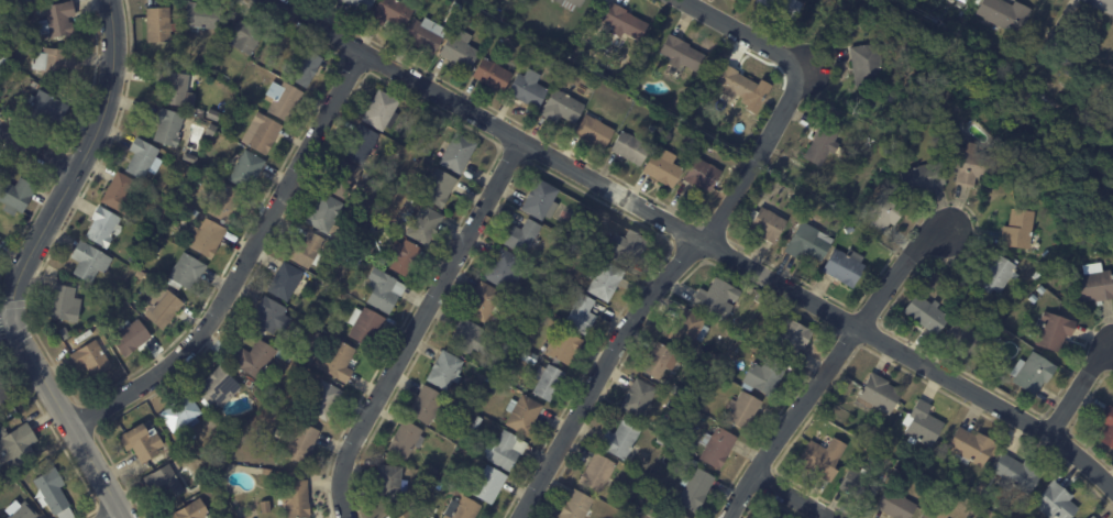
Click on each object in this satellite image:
road: (1112, 0)
building: (570, 2)
building: (960, 2)
building: (359, 4)
building: (783, 5)
building: (392, 12)
building: (1005, 13)
building: (201, 15)
building: (463, 16)
building: (16, 18)
building: (505, 18)
building: (928, 18)
building: (55, 19)
building: (624, 22)
building: (158, 24)
road: (742, 34)
building: (422, 35)
building: (508, 35)
building: (244, 36)
building: (460, 49)
building: (1068, 53)
building: (681, 54)
building: (2, 59)
building: (54, 60)
building: (301, 66)
building: (554, 66)
building: (868, 66)
building: (11, 67)
building: (672, 69)
building: (492, 74)
building: (34, 84)
building: (735, 85)
building: (176, 88)
building: (528, 88)
building: (283, 99)
building: (561, 107)
building: (45, 108)
building: (382, 111)
building: (212, 114)
building: (168, 128)
building: (211, 128)
building: (652, 128)
building: (594, 130)
building: (261, 134)
building: (692, 141)
building: (361, 143)
building: (823, 144)
building: (225, 145)
road: (36, 148)
building: (630, 148)
building: (458, 153)
road: (754, 154)
building: (142, 158)
building: (189, 158)
road: (77, 162)
building: (976, 166)
building: (1, 167)
building: (246, 169)
building: (662, 169)
building: (1007, 173)
building: (702, 175)
building: (923, 177)
building: (342, 179)
building: (437, 187)
building: (174, 191)
building: (791, 191)
building: (118, 194)
building: (14, 196)
building: (540, 200)
building: (224, 203)
building: (882, 212)
building: (323, 213)
building: (767, 224)
building: (425, 225)
building: (102, 227)
building: (849, 229)
building: (1018, 229)
road: (695, 234)
building: (521, 236)
building: (207, 238)
building: (807, 241)
building: (629, 249)
building: (306, 251)
building: (403, 257)
building: (88, 261)
road: (244, 262)
building: (844, 266)
building: (551, 267)
building: (503, 268)
building: (185, 272)
road: (897, 274)
building: (139, 275)
building: (959, 275)
building: (996, 275)
building: (1036, 275)
building: (604, 279)
building: (284, 280)
building: (1093, 284)
building: (1042, 289)
building: (383, 290)
building: (714, 299)
building: (544, 301)
building: (483, 302)
building: (63, 304)
building: (163, 308)
building: (926, 313)
building: (581, 315)
building: (271, 317)
building: (558, 318)
road: (7, 319)
road: (416, 323)
building: (364, 326)
building: (688, 328)
building: (1055, 331)
building: (64, 333)
building: (965, 335)
building: (469, 337)
building: (130, 338)
building: (791, 339)
building: (564, 346)
building: (741, 349)
building: (293, 350)
building: (89, 356)
building: (255, 359)
building: (714, 360)
building: (338, 361)
building: (658, 361)
road: (603, 368)
building: (444, 371)
building: (1033, 373)
building: (764, 375)
building: (1, 382)
building: (548, 382)
building: (249, 383)
building: (217, 387)
road: (1081, 388)
building: (878, 394)
building: (2, 395)
building: (639, 399)
building: (323, 400)
building: (427, 406)
building: (741, 410)
building: (180, 412)
building: (522, 415)
road: (67, 418)
road: (793, 420)
building: (475, 423)
building: (923, 423)
building: (1108, 427)
building: (406, 440)
building: (620, 440)
building: (660, 441)
building: (142, 442)
building: (301, 443)
building: (15, 444)
building: (716, 447)
building: (867, 447)
building: (971, 448)
building: (505, 450)
building: (823, 459)
building: (433, 469)
building: (267, 472)
building: (597, 473)
building: (1017, 474)
building: (164, 482)
building: (388, 483)
building: (487, 484)
building: (857, 485)
building: (421, 488)
building: (694, 488)
building: (984, 488)
building: (214, 493)
building: (52, 494)
road: (792, 496)
building: (294, 499)
building: (1057, 502)
building: (896, 505)
building: (264, 506)
building: (576, 506)
building: (618, 506)
building: (466, 508)
building: (21, 511)
building: (191, 511)
building: (937, 514)
building: (407, 515)
building: (677, 515)
road: (118, 516)
building: (662, 516)
building: (431, 517)
building: (769, 517)
building: (1093, 517)

